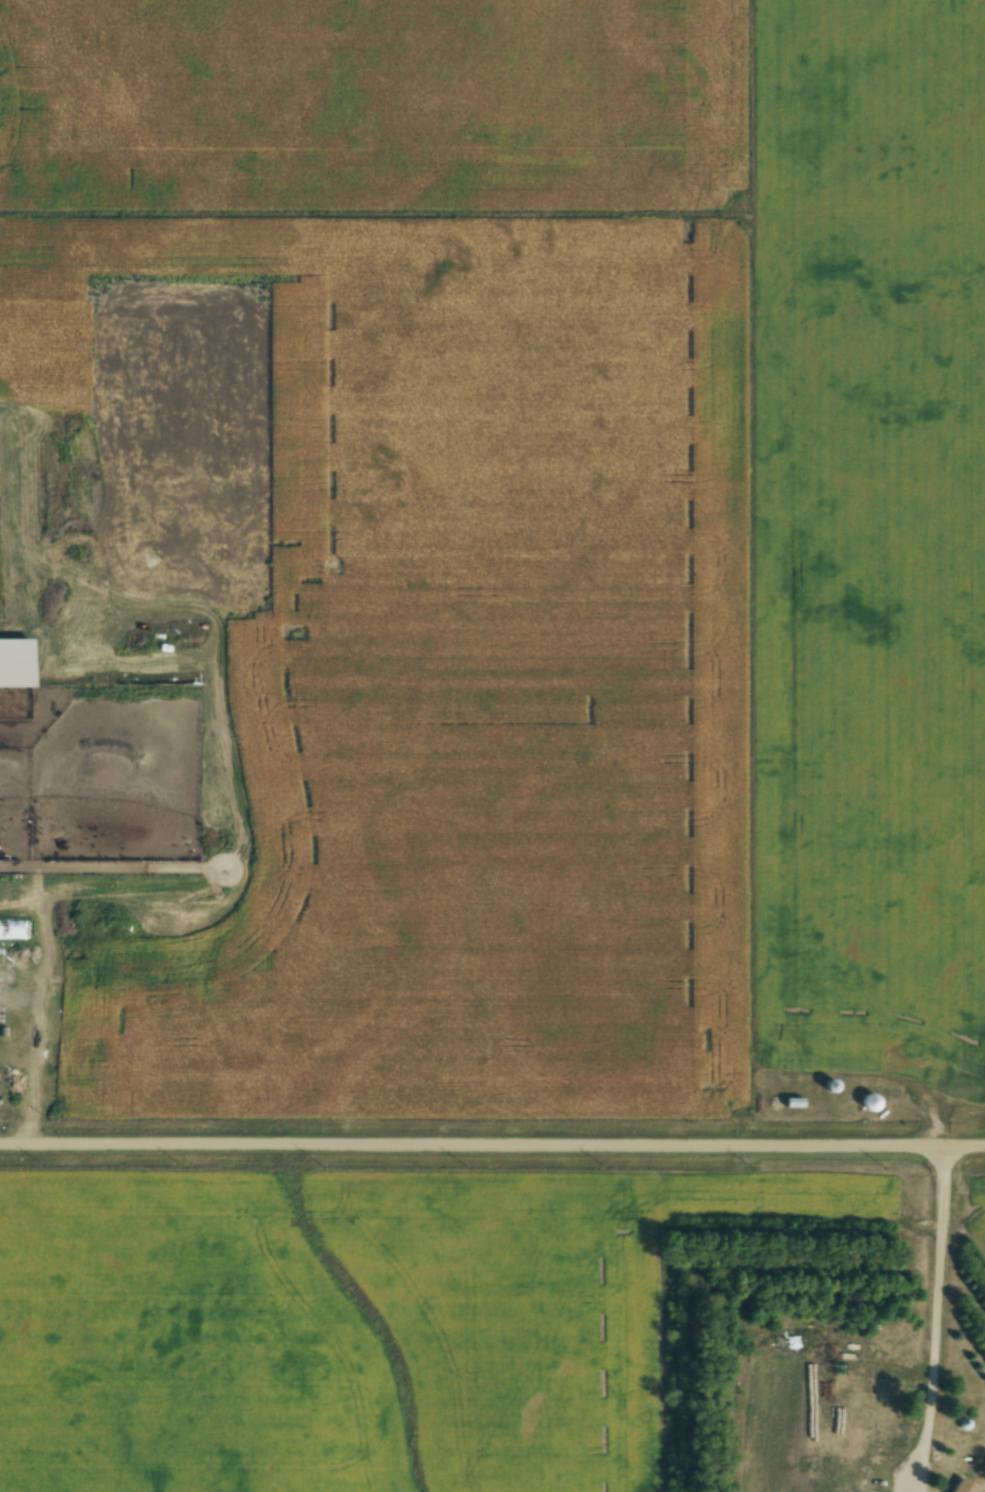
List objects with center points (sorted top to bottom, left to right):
building: (827, 1085)
building: (791, 1102)
building: (868, 1102)
road: (492, 1145)
building: (881, 1189)
road: (937, 1319)
building: (957, 1486)

